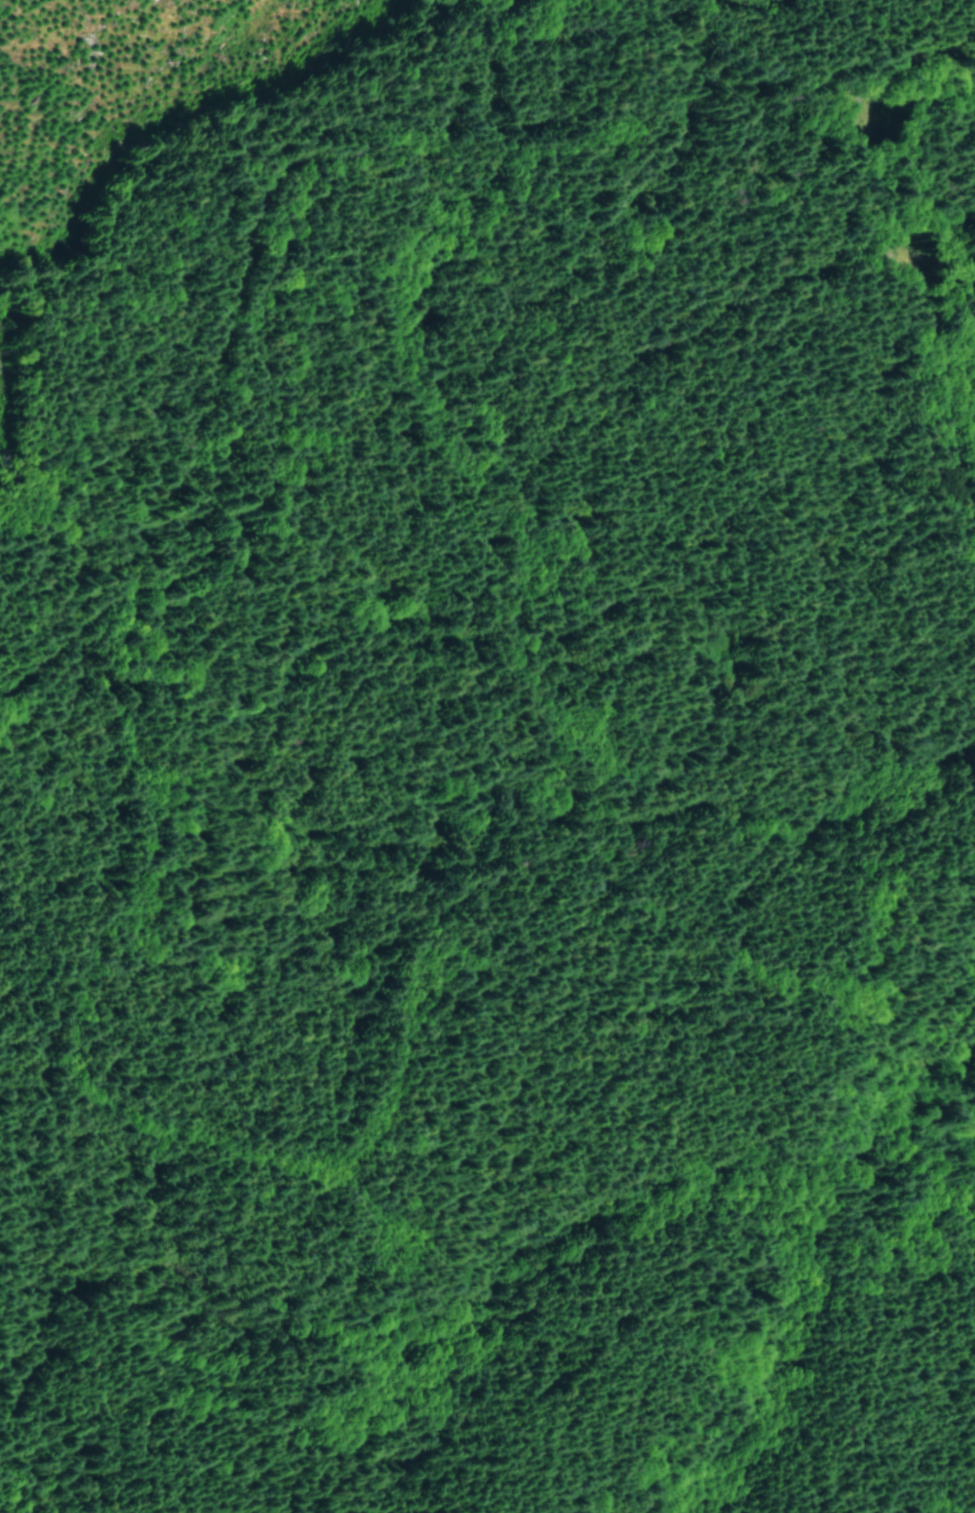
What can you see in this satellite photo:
road: (778, 455)

